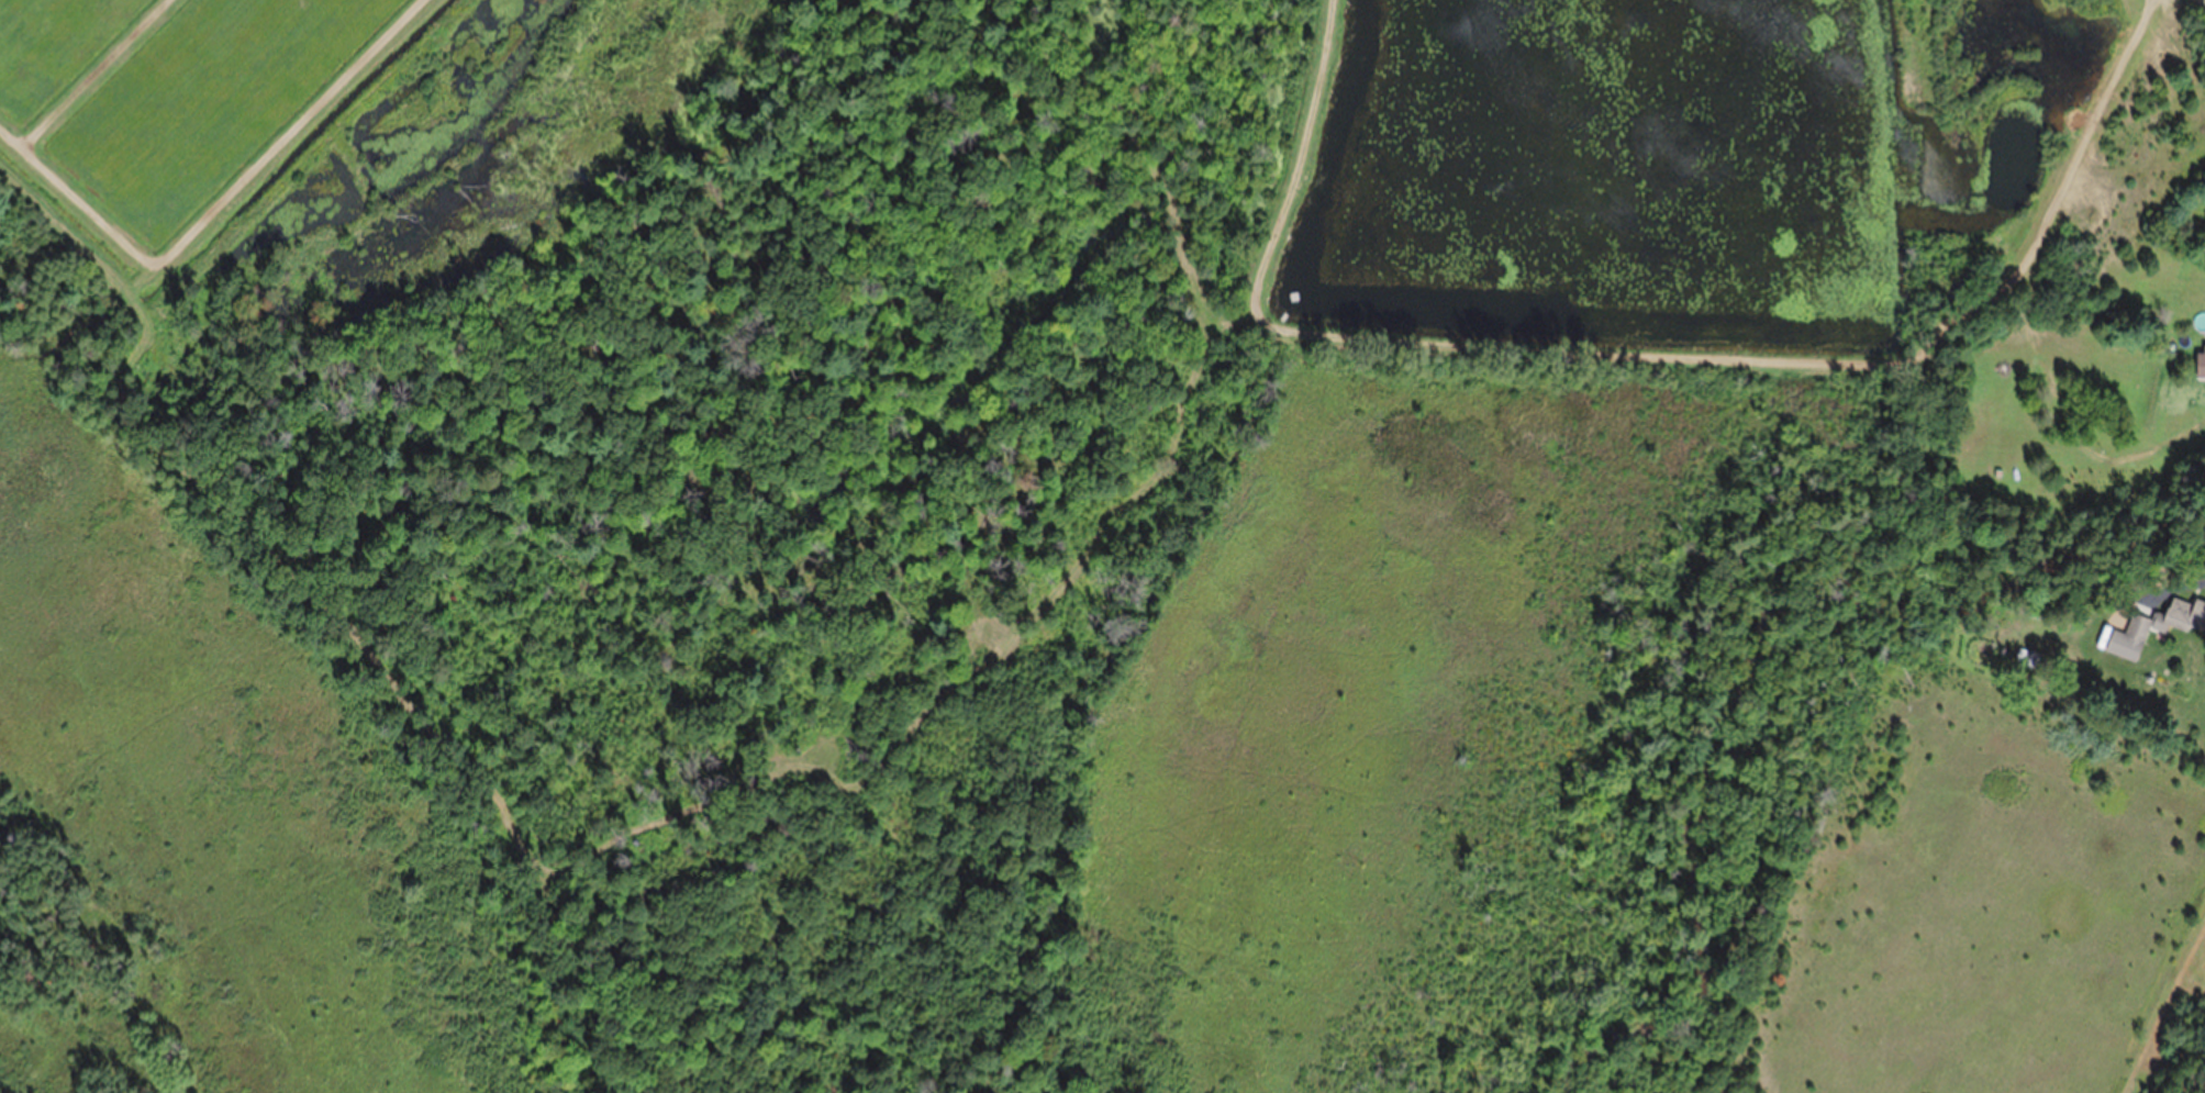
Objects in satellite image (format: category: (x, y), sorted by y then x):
road: (2194, 4)
crop: (177, 110)
building: (2197, 364)
building: (2168, 622)
building: (2025, 658)

